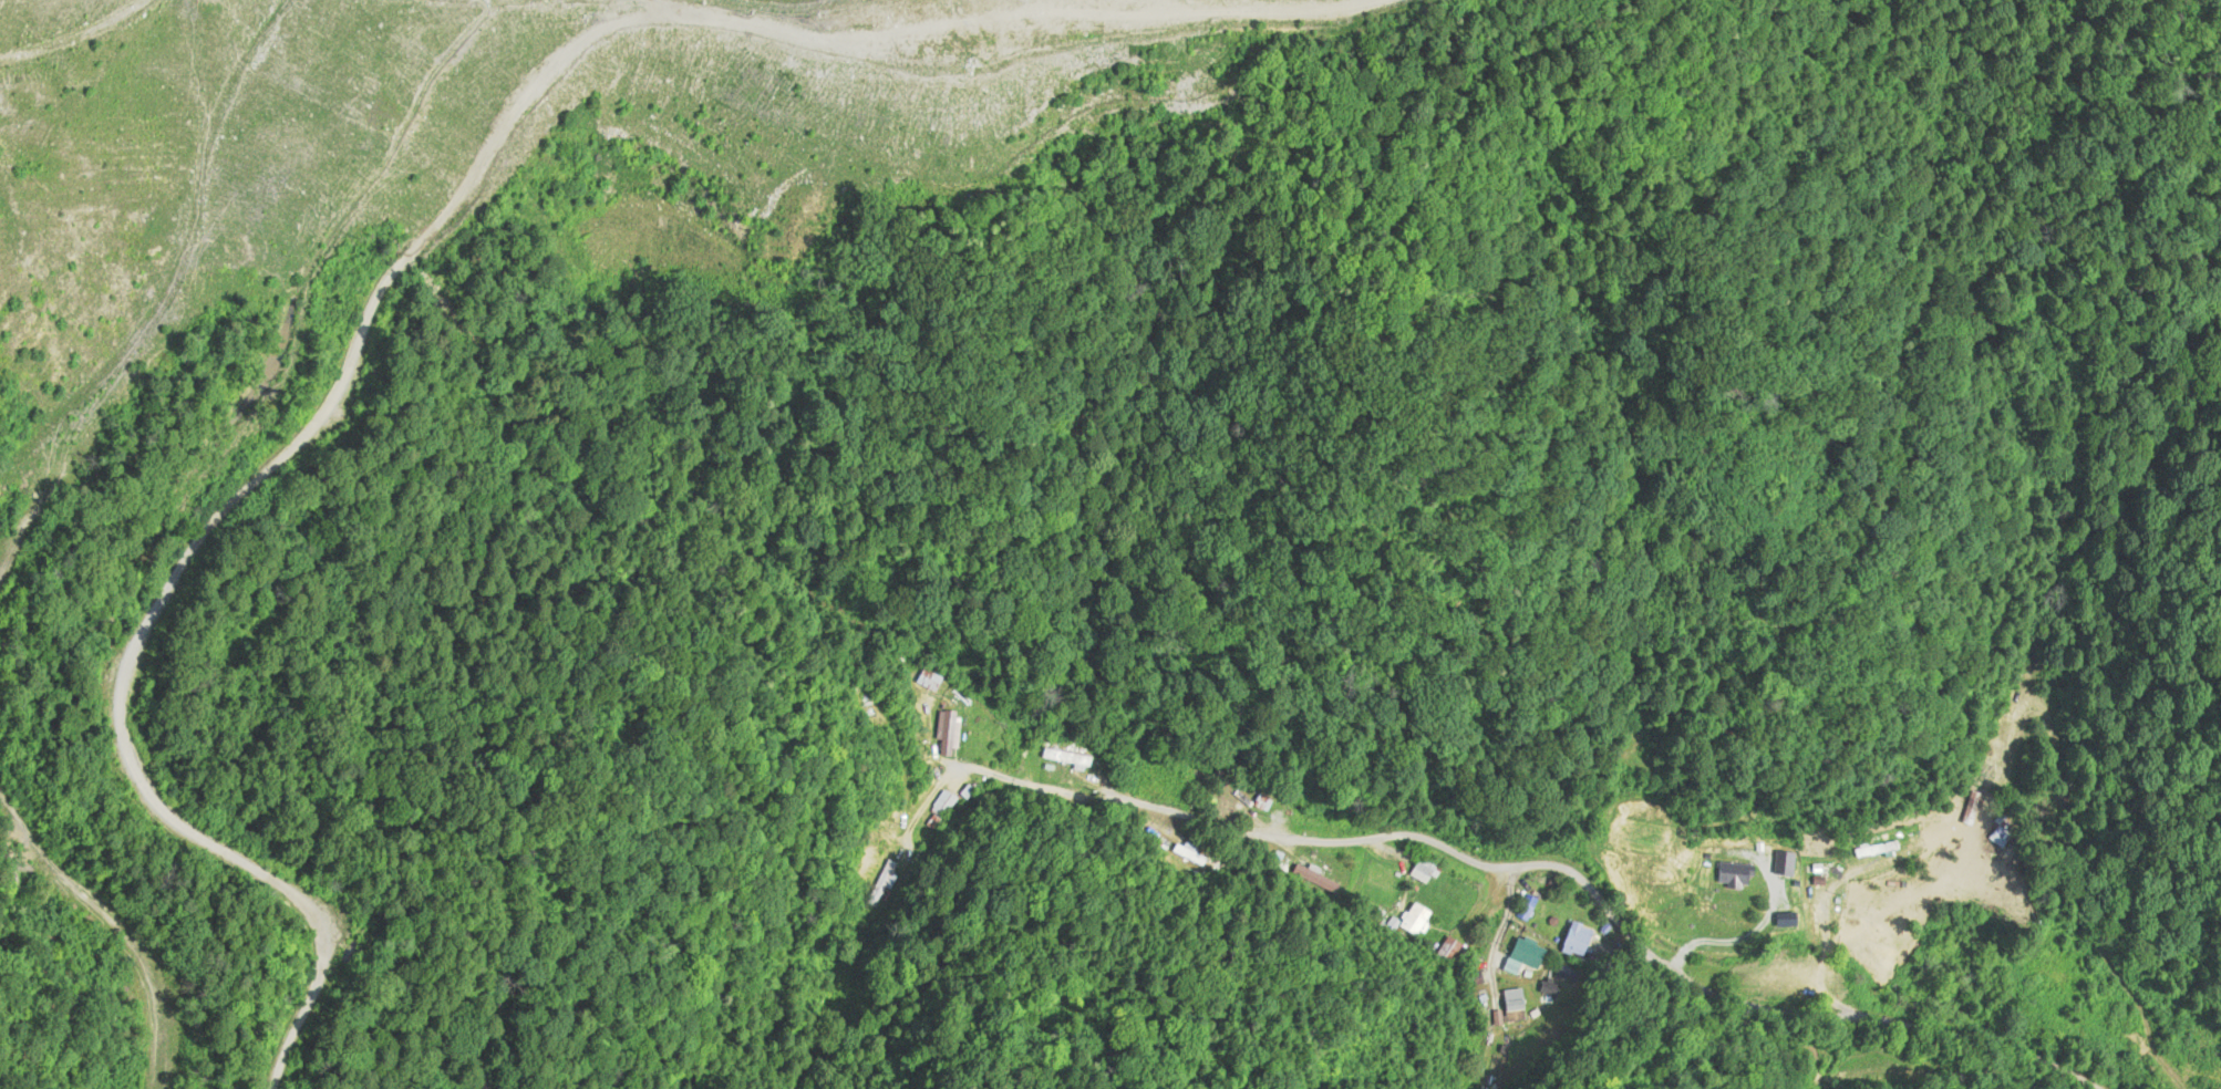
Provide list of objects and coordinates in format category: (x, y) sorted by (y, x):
building: (948, 732)
building: (941, 802)
building: (1262, 802)
building: (1181, 850)
building: (1879, 850)
building: (1785, 863)
building: (1428, 872)
building: (1735, 875)
building: (1315, 878)
building: (1527, 909)
building: (1419, 921)
building: (1578, 941)
building: (1877, 943)
building: (1446, 948)
road: (1577, 953)
building: (1526, 956)

